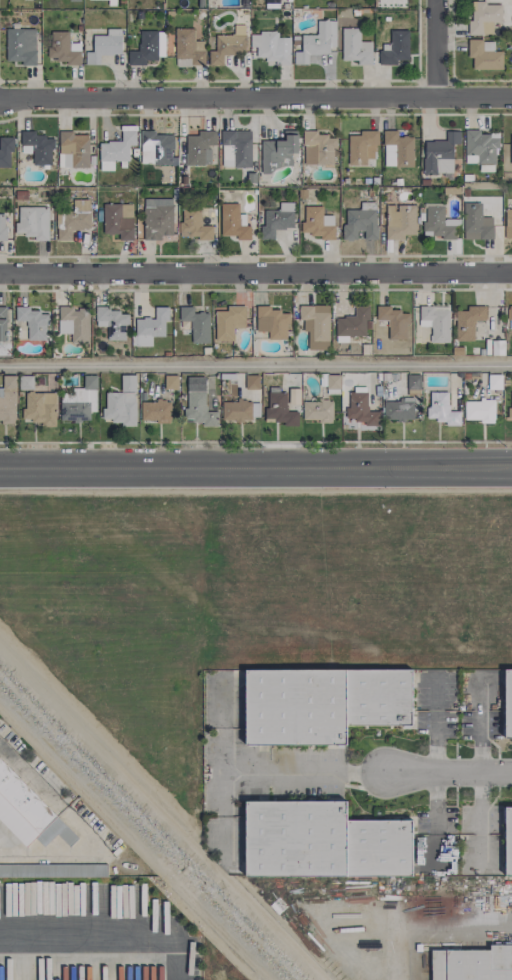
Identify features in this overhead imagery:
building: (74, 0)
building: (483, 17)
building: (316, 42)
building: (20, 45)
building: (104, 46)
building: (227, 46)
building: (148, 47)
building: (270, 47)
building: (355, 47)
building: (63, 48)
building: (188, 48)
building: (395, 48)
road: (432, 48)
building: (484, 55)
road: (256, 96)
building: (199, 146)
building: (38, 147)
building: (156, 147)
building: (362, 147)
building: (318, 148)
building: (481, 149)
building: (116, 150)
building: (397, 150)
building: (511, 150)
building: (278, 151)
building: (5, 152)
building: (440, 154)
building: (73, 218)
building: (157, 218)
building: (277, 218)
building: (118, 220)
building: (360, 221)
building: (399, 221)
building: (33, 222)
building: (233, 222)
building: (476, 222)
building: (318, 223)
building: (439, 223)
building: (508, 223)
building: (193, 224)
building: (2, 227)
road: (256, 273)
building: (510, 317)
building: (435, 321)
building: (468, 321)
building: (33, 322)
building: (112, 322)
building: (228, 322)
building: (271, 322)
building: (315, 322)
building: (393, 322)
building: (3, 323)
building: (74, 323)
building: (196, 324)
building: (352, 324)
building: (150, 327)
building: (497, 347)
road: (256, 363)
building: (170, 381)
building: (25, 382)
building: (252, 382)
building: (413, 385)
building: (158, 391)
building: (293, 396)
building: (8, 399)
building: (79, 401)
building: (121, 402)
building: (197, 402)
building: (510, 405)
building: (39, 408)
building: (441, 408)
building: (279, 409)
building: (361, 409)
building: (398, 409)
building: (240, 410)
building: (317, 410)
building: (479, 410)
building: (155, 411)
road: (256, 467)
building: (500, 540)
building: (330, 554)
building: (84, 559)
road: (436, 692)
building: (321, 702)
building: (508, 702)
road: (437, 743)
road: (319, 772)
road: (450, 772)
building: (23, 800)
building: (11, 819)
road: (81, 829)
building: (321, 841)
road: (134, 842)
building: (508, 843)
building: (53, 870)
road: (113, 924)
road: (445, 935)
building: (473, 964)

